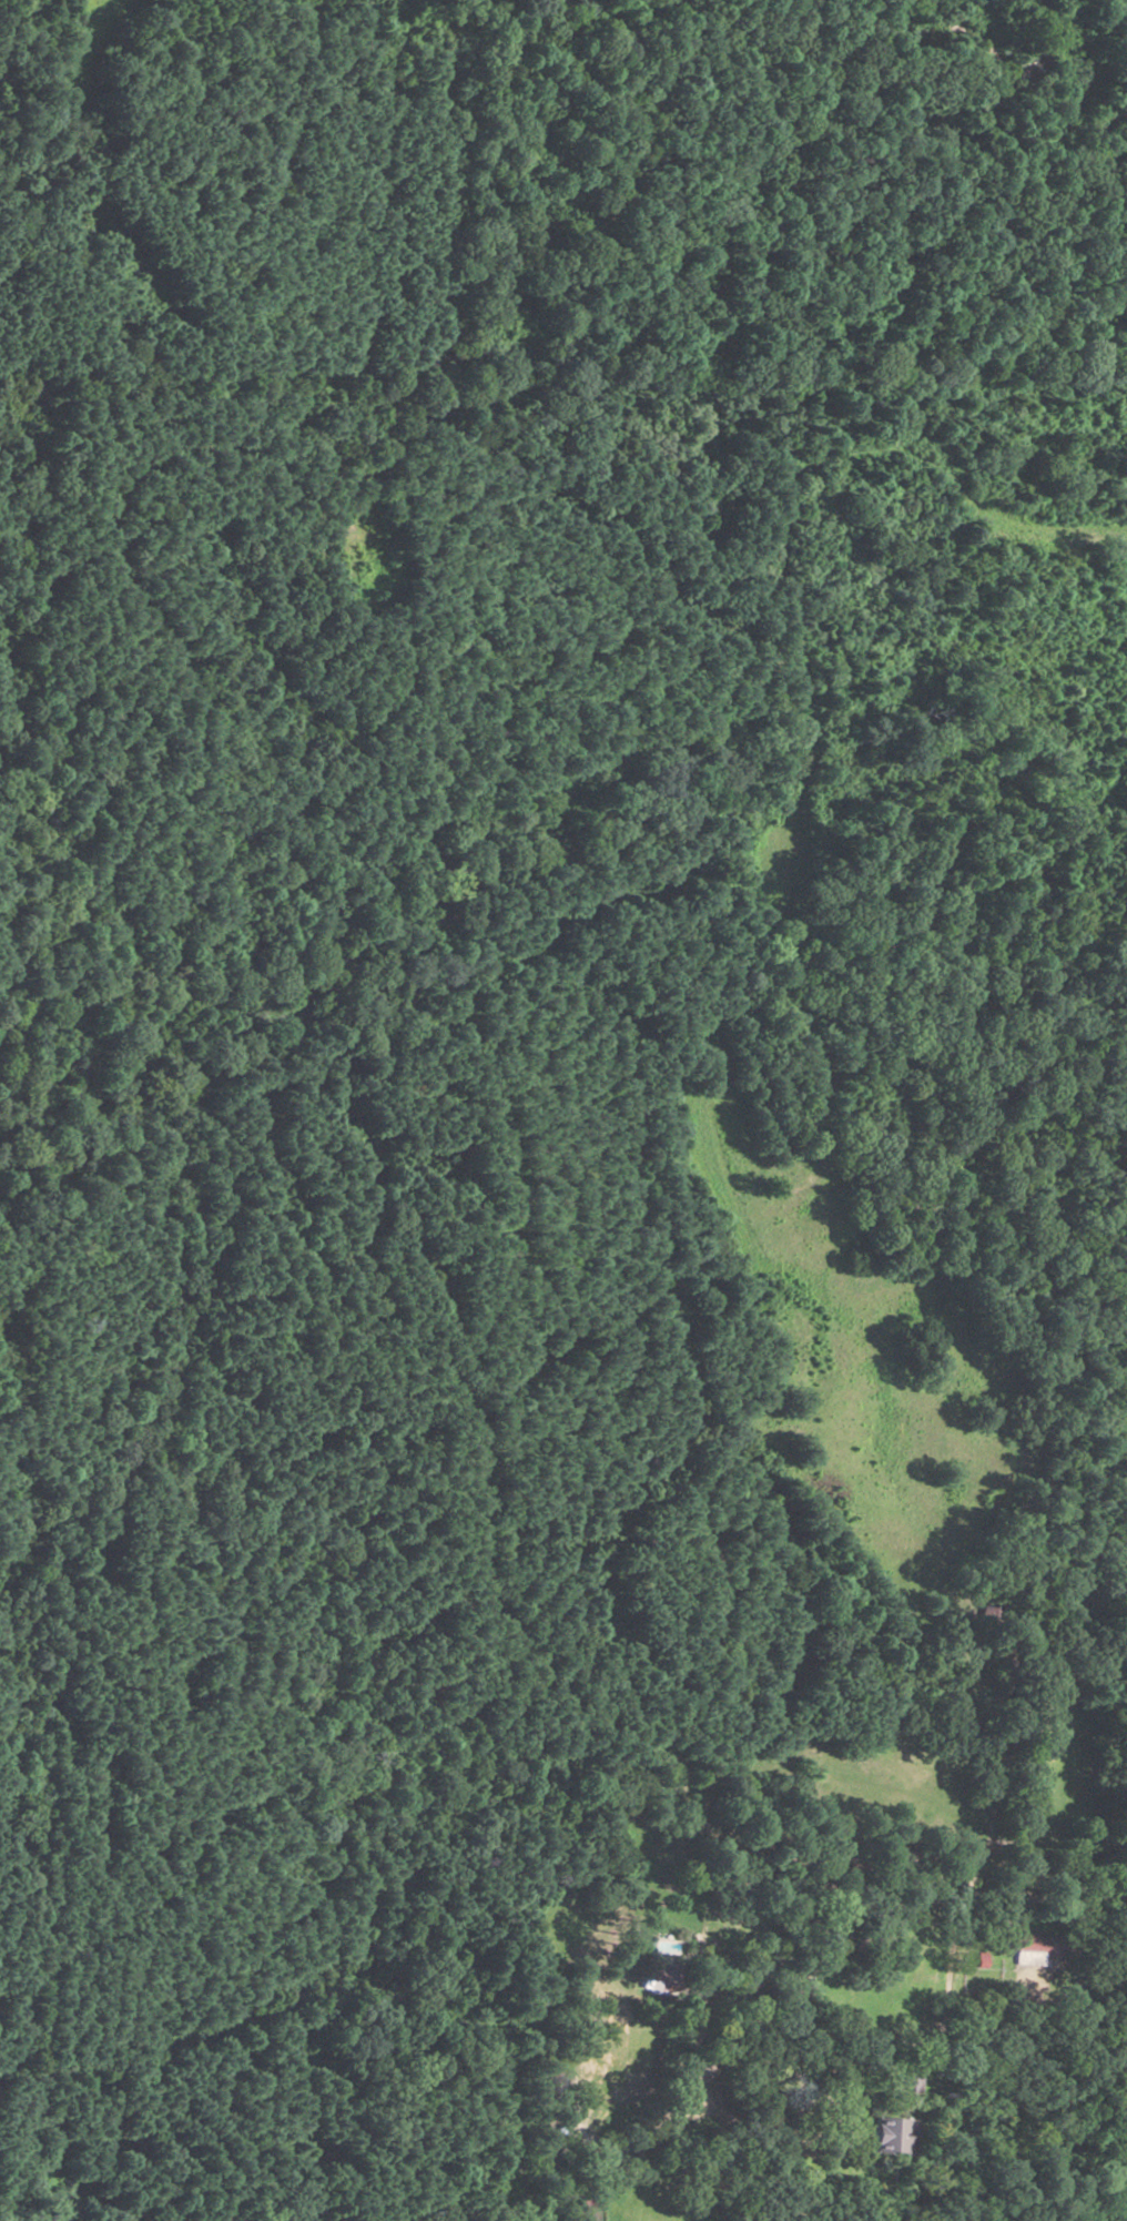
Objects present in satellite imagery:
building: (1038, 1948)
building: (660, 1978)
building: (895, 2134)

